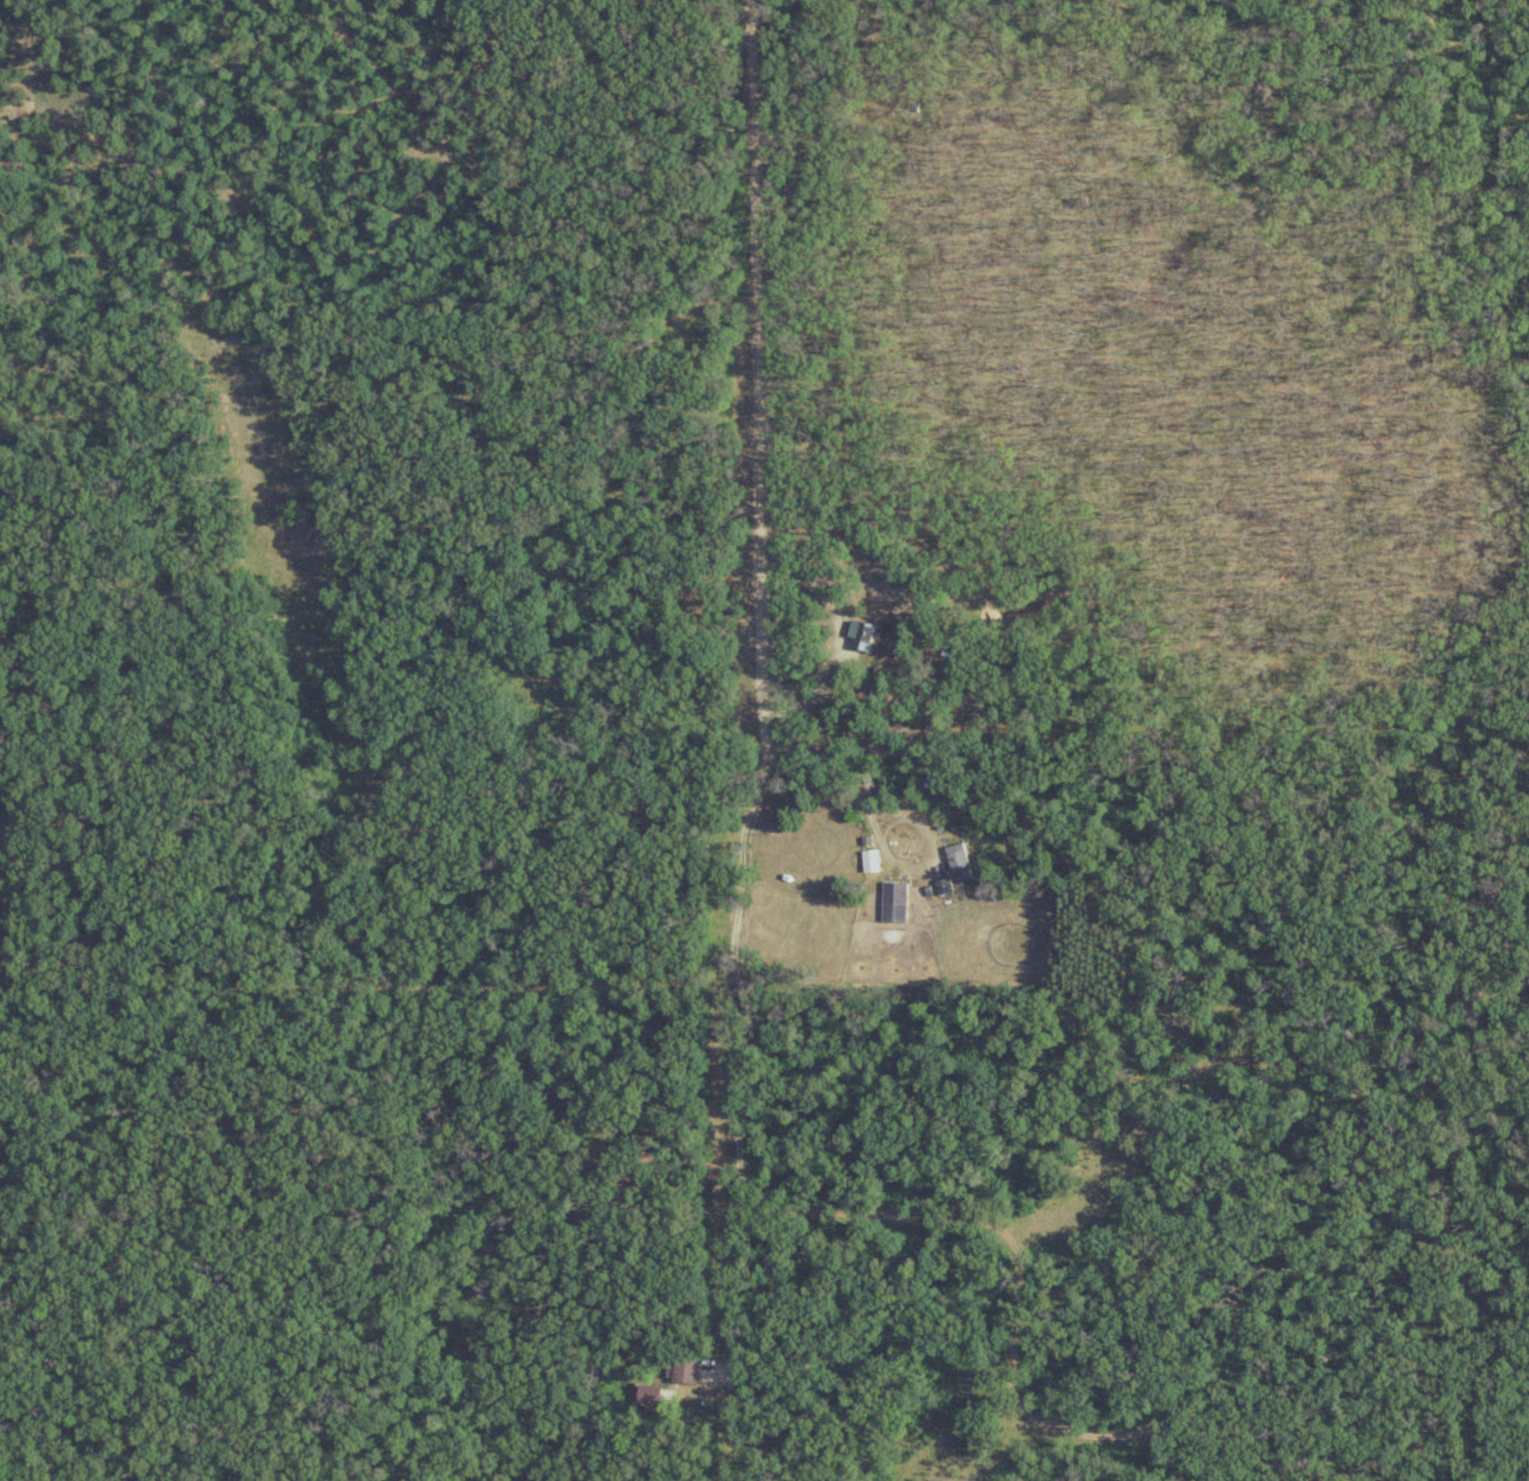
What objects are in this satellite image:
building: (860, 636)
road: (753, 707)
road: (898, 813)
building: (870, 862)
building: (958, 863)
building: (943, 887)
building: (893, 903)
building: (682, 1369)
building: (647, 1394)

